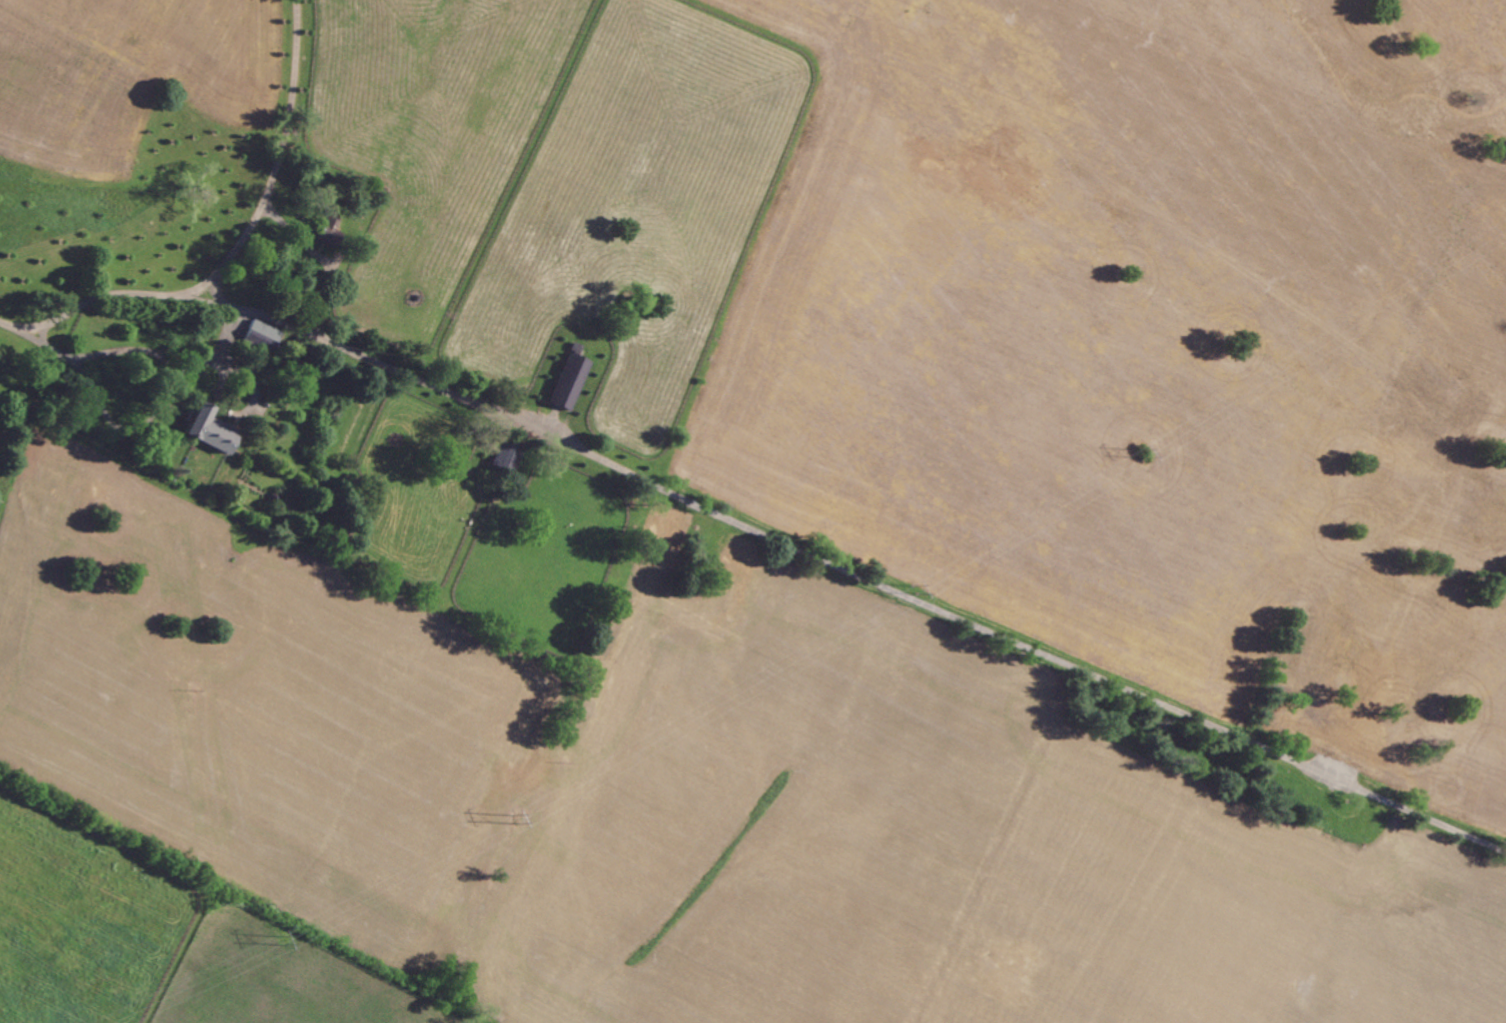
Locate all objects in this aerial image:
road: (272, 185)
building: (327, 237)
road: (320, 256)
road: (102, 297)
road: (251, 312)
building: (261, 334)
road: (128, 350)
building: (569, 380)
building: (209, 428)
building: (506, 455)
power tower: (1142, 455)
road: (905, 591)
power tower: (914, 592)
power tower: (516, 820)
power tower: (283, 942)

